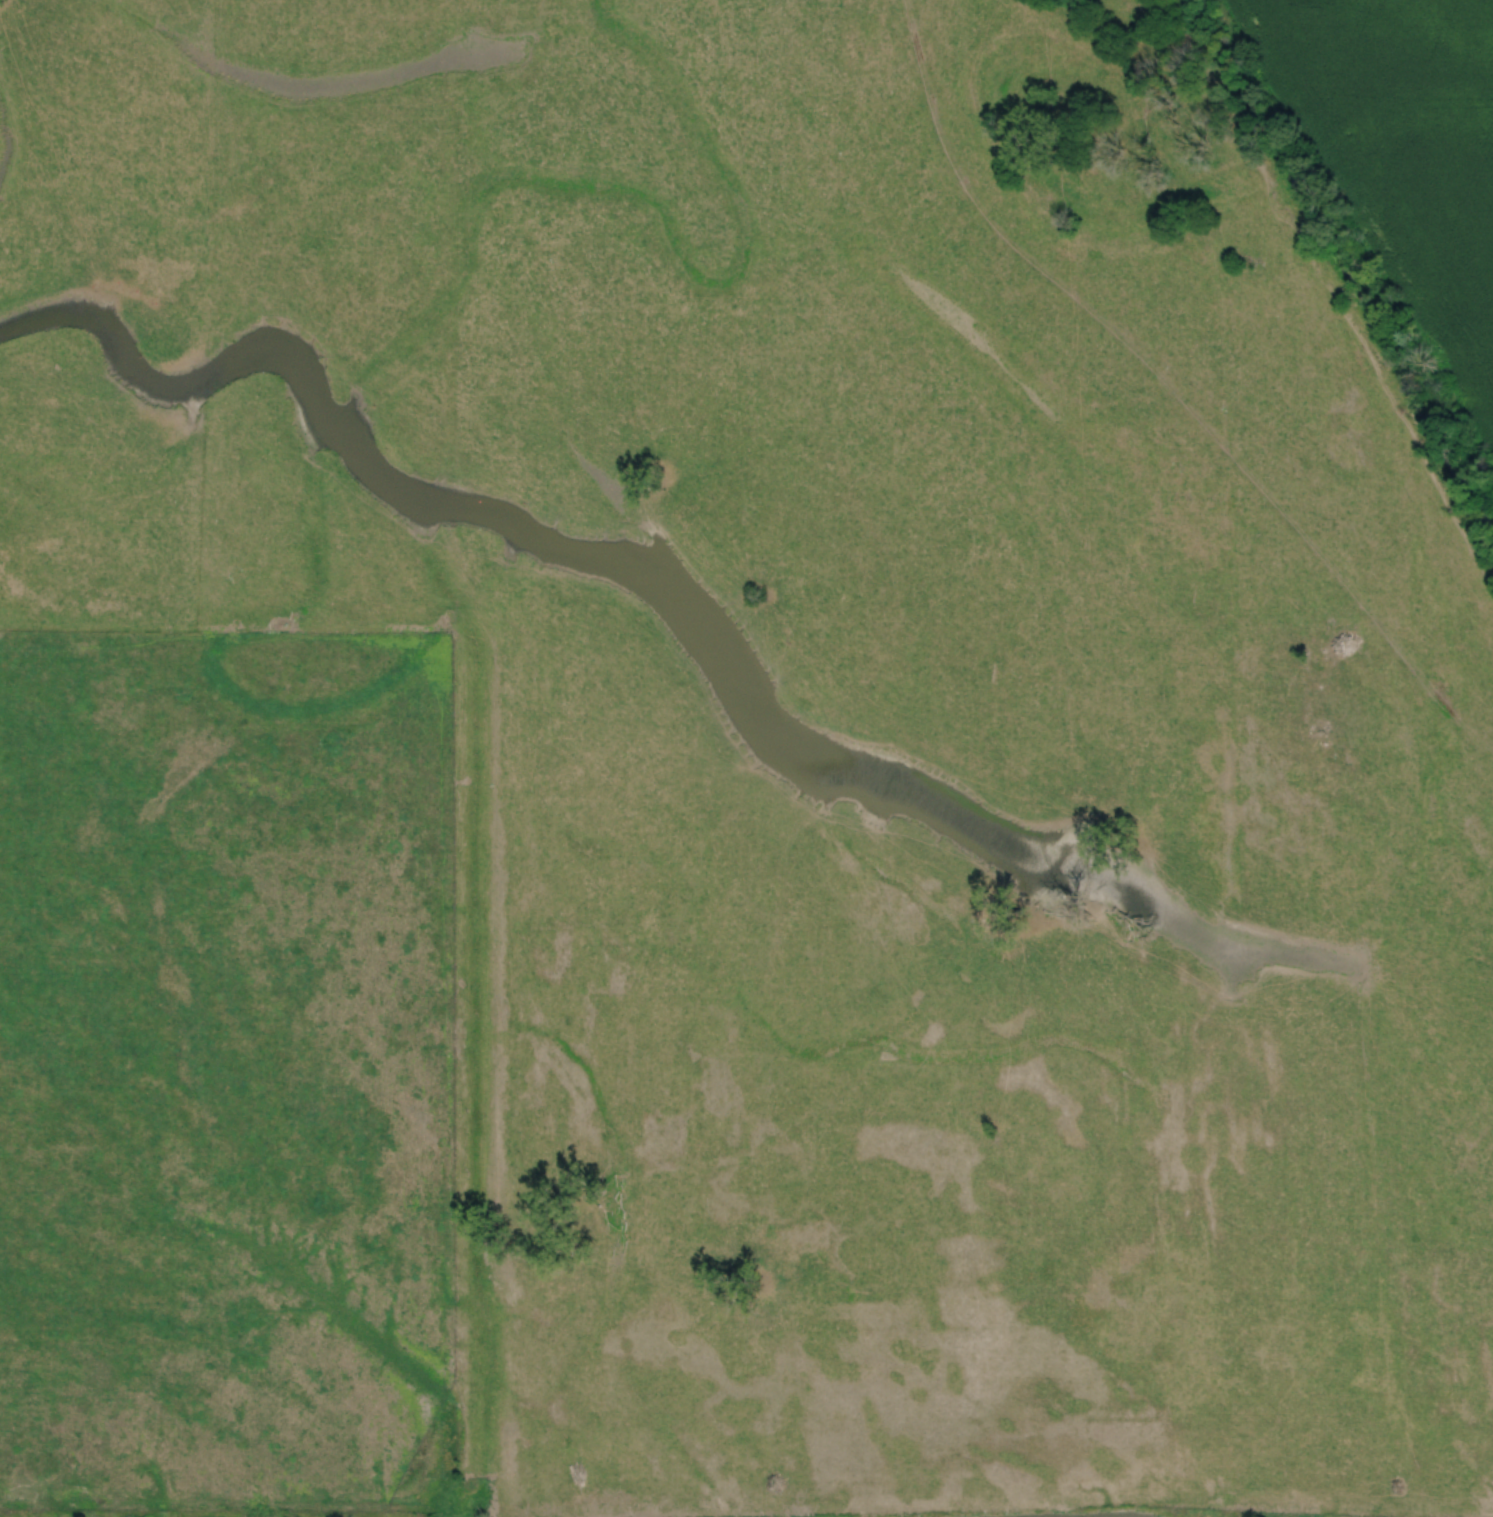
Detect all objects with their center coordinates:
river: (1352, 249)

